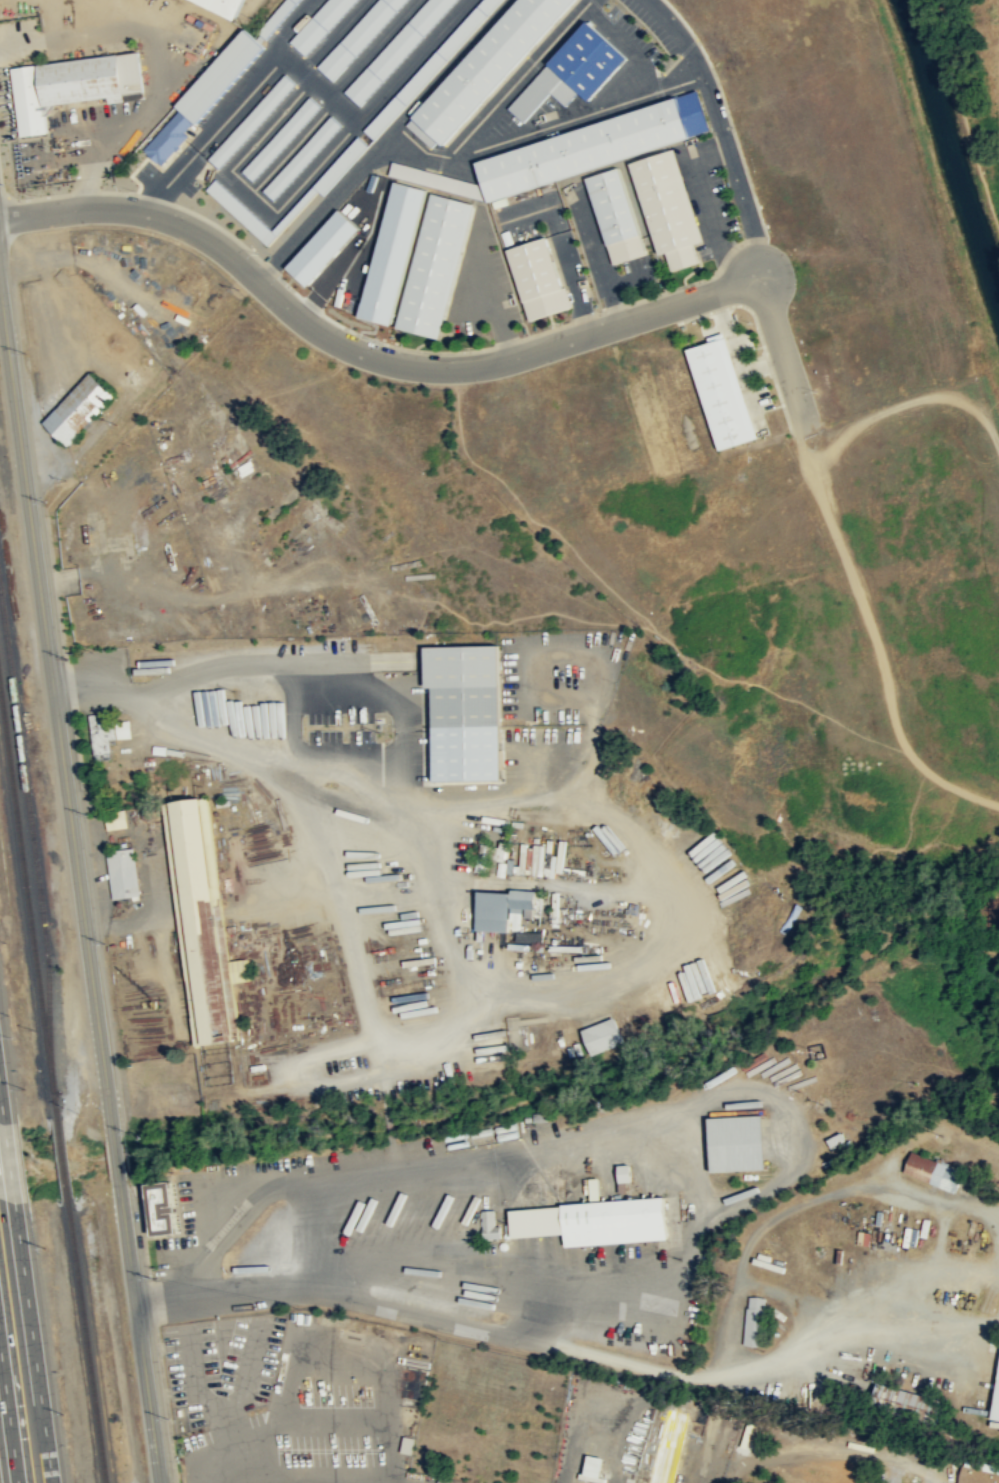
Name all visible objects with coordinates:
building: (226, 6)
building: (278, 17)
building: (321, 25)
road: (286, 26)
road: (335, 34)
building: (358, 37)
road: (145, 40)
road: (551, 43)
road: (373, 47)
building: (396, 49)
road: (413, 59)
building: (430, 67)
building: (485, 68)
building: (572, 70)
building: (72, 85)
building: (204, 95)
road: (357, 117)
building: (251, 121)
road: (538, 121)
road: (719, 127)
building: (280, 138)
road: (380, 138)
building: (592, 145)
road: (292, 146)
building: (301, 157)
building: (410, 173)
road: (708, 201)
building: (668, 207)
building: (241, 212)
building: (616, 215)
road: (591, 235)
building: (438, 265)
building: (538, 279)
road: (607, 287)
road: (573, 290)
road: (494, 302)
road: (783, 347)
road: (370, 353)
building: (721, 390)
building: (79, 407)
building: (468, 711)
road: (57, 713)
building: (107, 735)
building: (117, 820)
railway: (33, 840)
building: (123, 873)
railway: (28, 903)
building: (506, 909)
building: (198, 920)
building: (243, 970)
building: (604, 1035)
road: (1, 1110)
building: (741, 1143)
railway: (63, 1159)
road: (116, 1159)
road: (8, 1162)
building: (934, 1171)
building: (626, 1173)
building: (596, 1189)
building: (165, 1209)
building: (595, 1222)
building: (490, 1224)
building: (756, 1321)
road: (138, 1330)
railway: (87, 1341)
road: (32, 1342)
building: (910, 1400)
building: (997, 1407)
road: (8, 1417)
building: (595, 1468)
building: (978, 1476)

